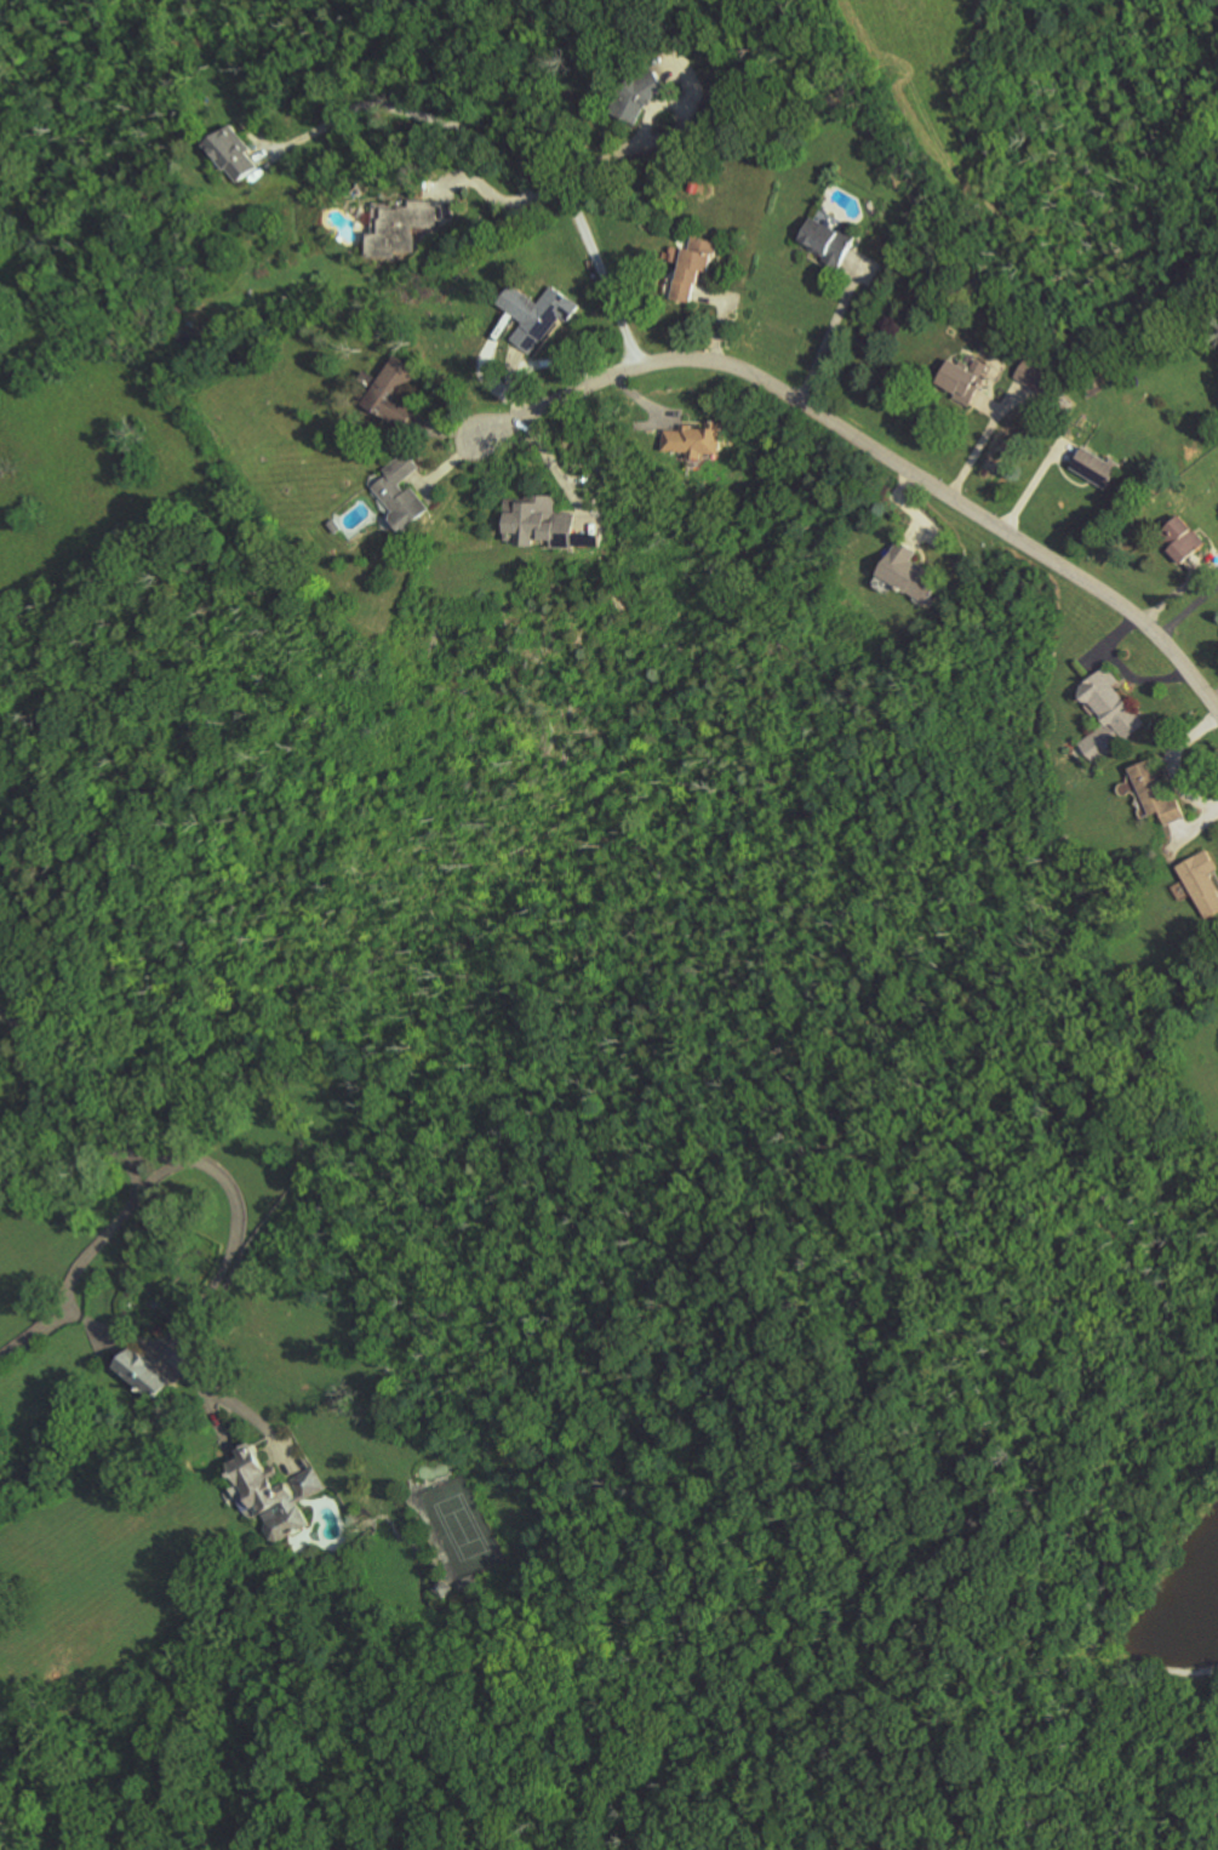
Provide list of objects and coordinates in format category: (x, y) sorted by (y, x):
building: (642, 95)
road: (509, 145)
road: (606, 152)
building: (234, 154)
road: (497, 198)
building: (398, 228)
building: (828, 241)
building: (693, 267)
building: (538, 315)
road: (830, 332)
building: (966, 381)
building: (1031, 384)
building: (393, 393)
building: (696, 441)
road: (876, 449)
building: (1098, 466)
road: (1030, 485)
building: (402, 493)
building: (538, 523)
building: (1183, 538)
building: (908, 571)
road: (1186, 609)
road: (1119, 670)
road: (1214, 700)
building: (1108, 715)
road: (1173, 760)
building: (1154, 789)
building: (1202, 881)
road: (39, 1074)
road: (156, 1146)
building: (144, 1374)
building: (274, 1492)

